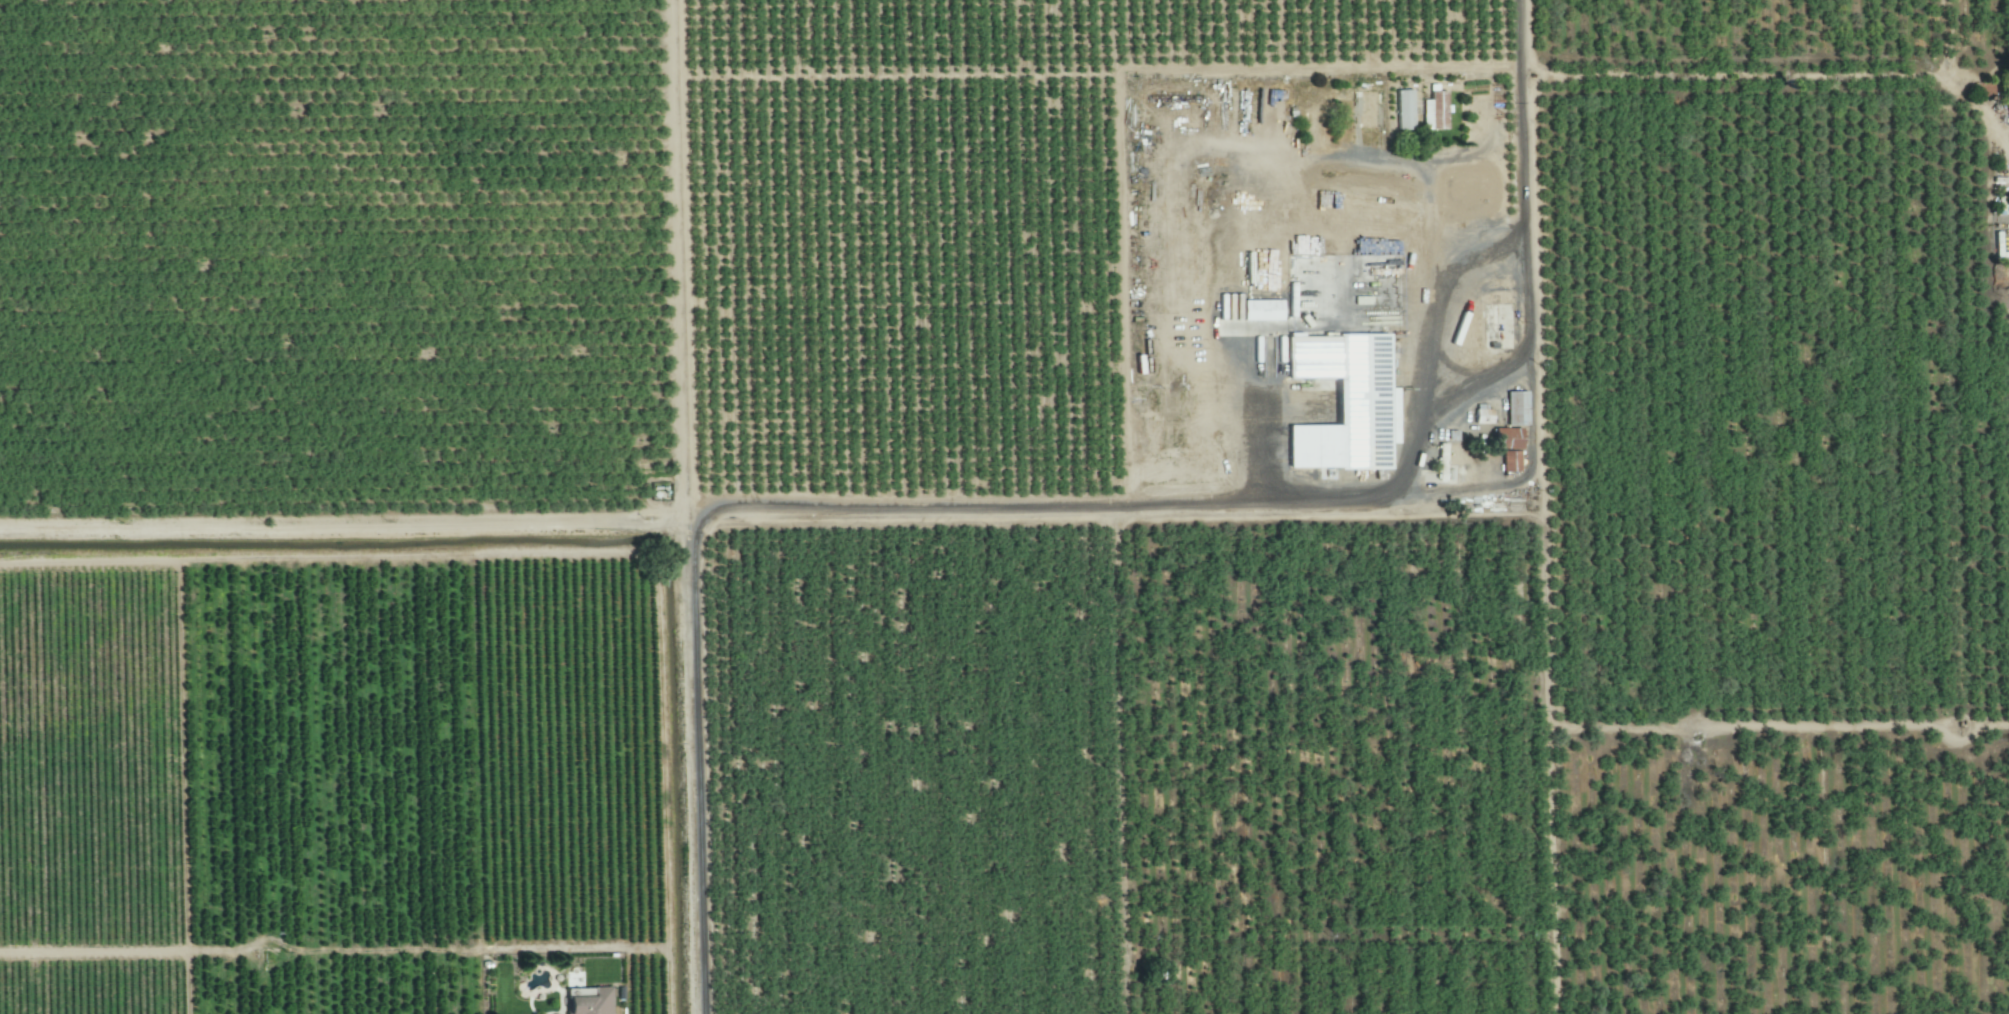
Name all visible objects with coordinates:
building: (1983, 92)
building: (1366, 112)
building: (1402, 112)
building: (1434, 112)
building: (1468, 192)
building: (1259, 313)
road: (1528, 343)
building: (1341, 404)
building: (1514, 412)
building: (1481, 418)
building: (1507, 451)
road: (1059, 507)
road: (347, 532)
building: (584, 1002)

